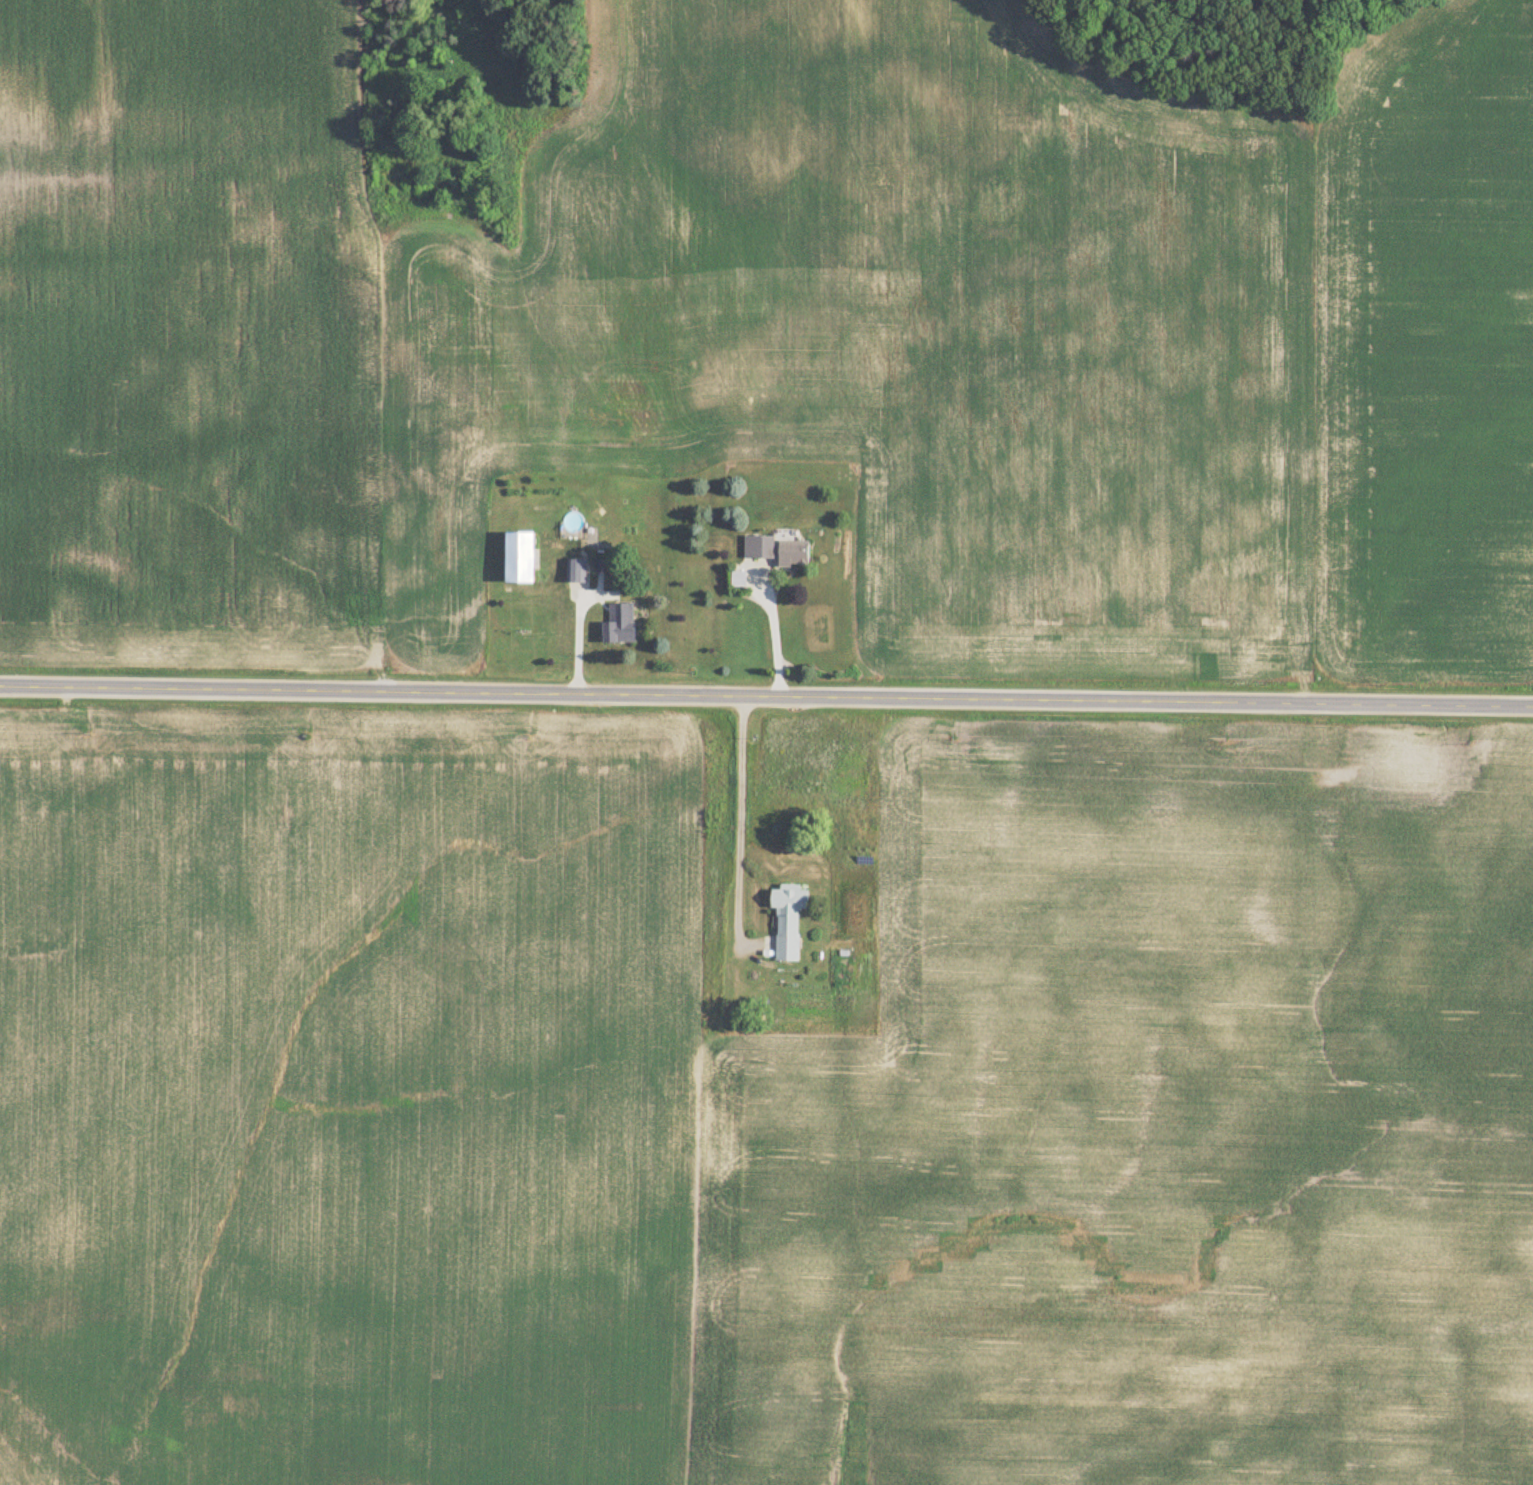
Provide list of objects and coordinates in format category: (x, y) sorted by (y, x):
building: (780, 550)
building: (524, 556)
building: (578, 569)
building: (622, 621)
road: (775, 632)
road: (580, 638)
road: (766, 696)
road: (743, 818)
building: (791, 918)

